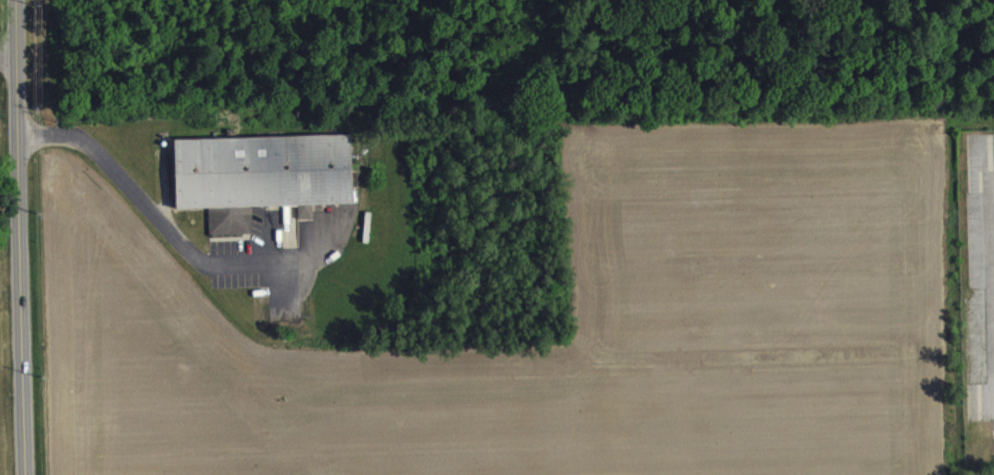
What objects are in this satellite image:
road: (13, 77)
building: (260, 173)
road: (156, 224)
road: (28, 237)

